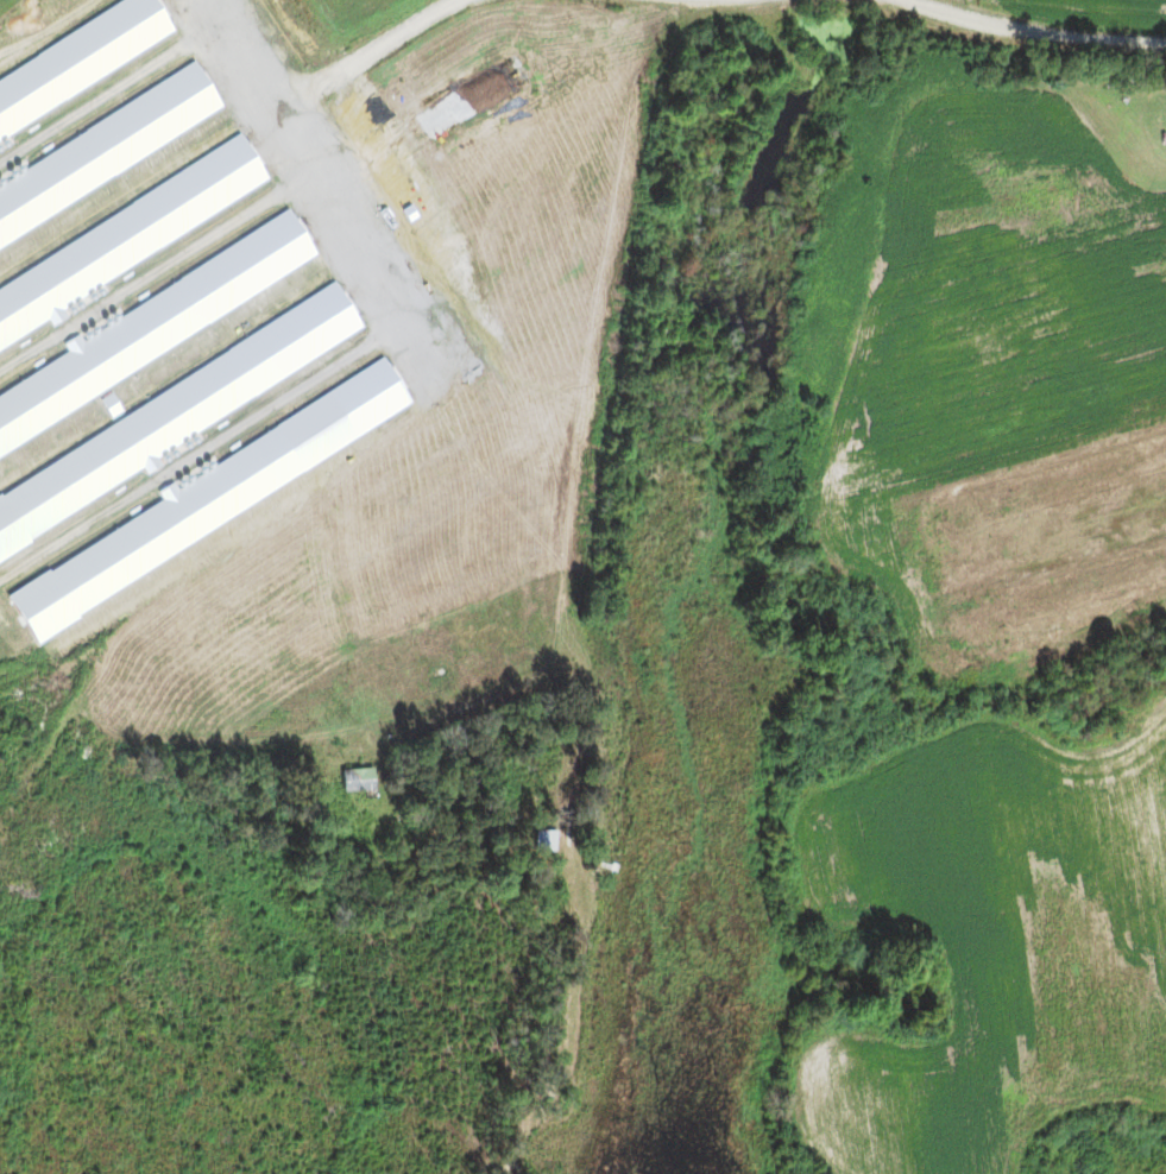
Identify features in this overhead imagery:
road: (1015, 32)
building: (27, 137)
road: (322, 149)
building: (347, 179)
building: (295, 329)
building: (94, 380)
building: (127, 504)
building: (1085, 581)
road: (1139, 728)
building: (357, 779)

